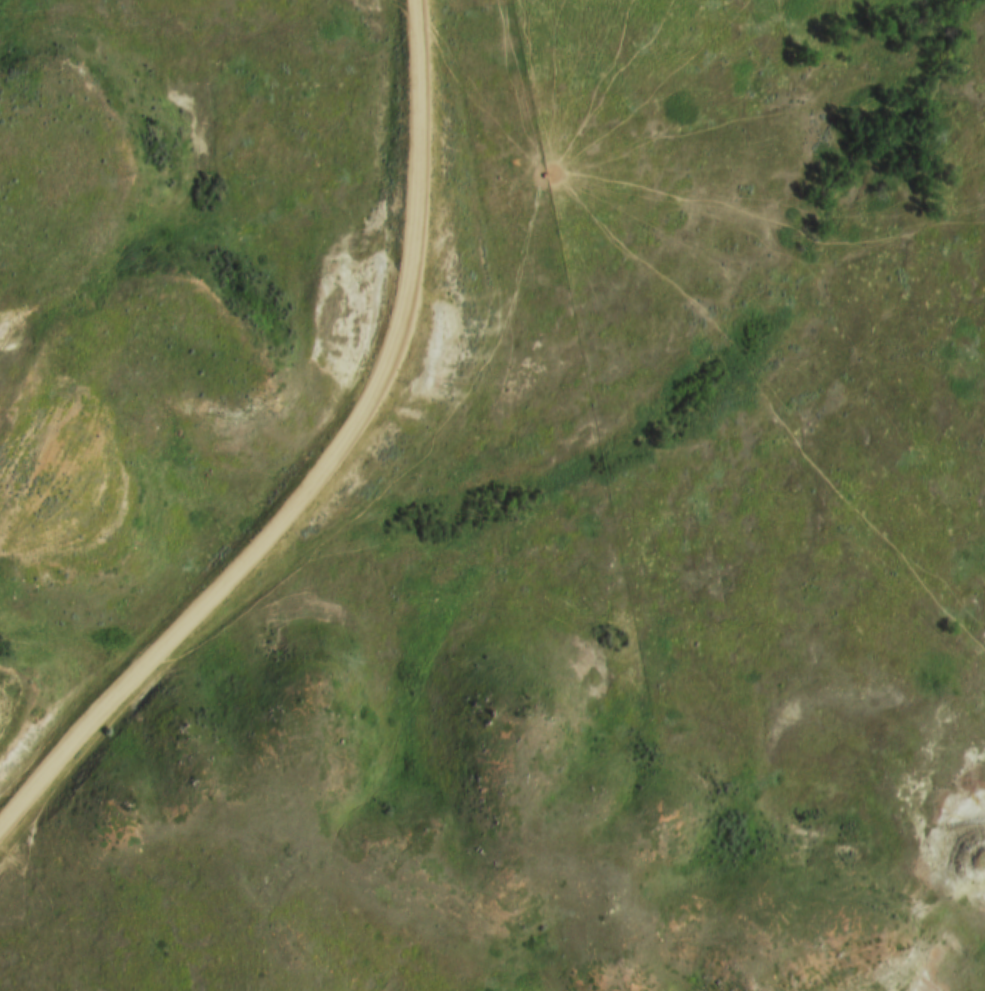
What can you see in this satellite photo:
road: (327, 465)
quarry: (9, 700)

